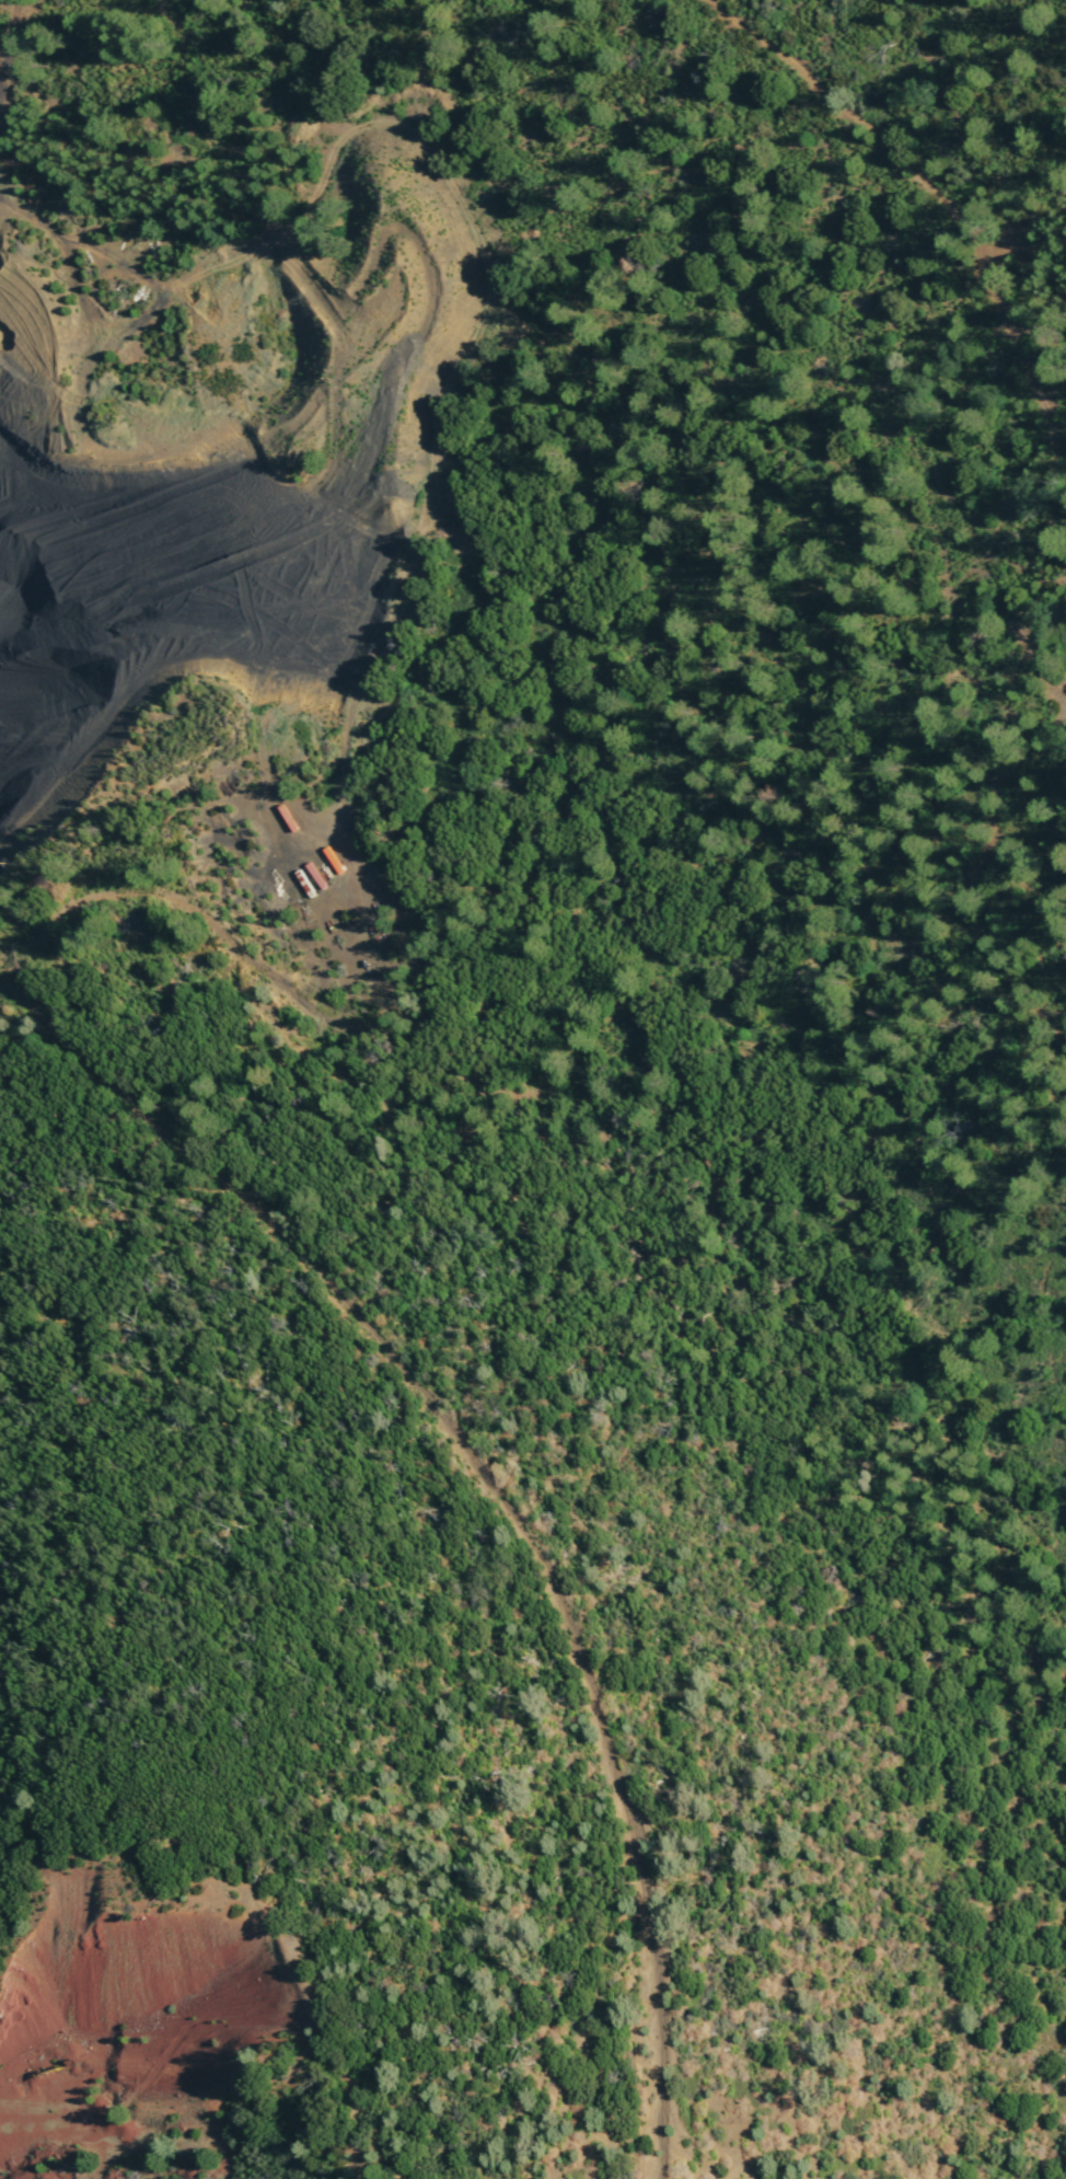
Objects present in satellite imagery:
road: (10, 50)
road: (1057, 473)
quarry: (205, 599)
road: (495, 1495)
quarry: (140, 2020)

